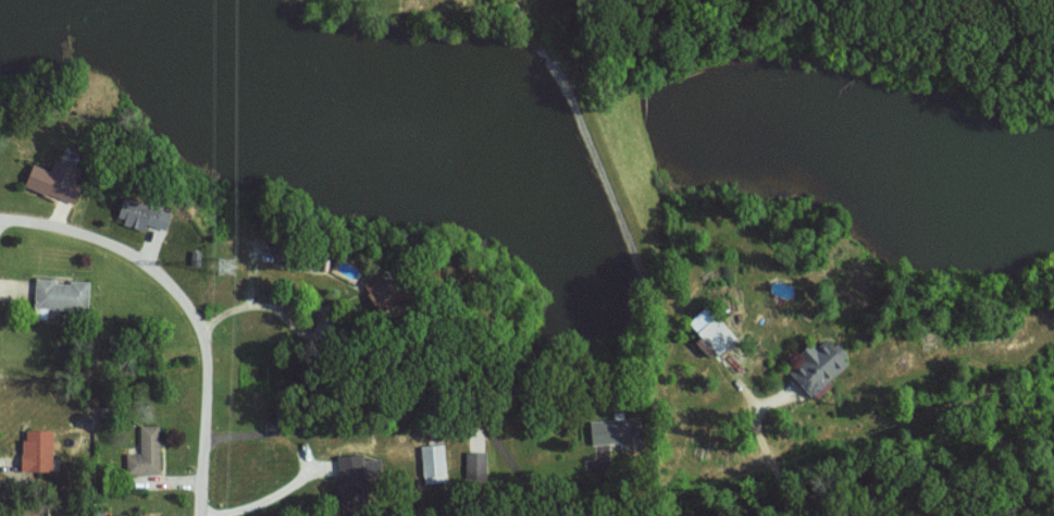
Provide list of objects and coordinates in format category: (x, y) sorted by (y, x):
building: (54, 181)
building: (144, 213)
power tower: (232, 267)
building: (381, 287)
building: (62, 293)
road: (188, 302)
building: (714, 331)
building: (819, 365)
building: (618, 432)
building: (38, 449)
building: (146, 451)
road: (765, 458)
building: (434, 460)
building: (475, 465)
building: (359, 467)
road: (348, 499)
building: (151, 513)

